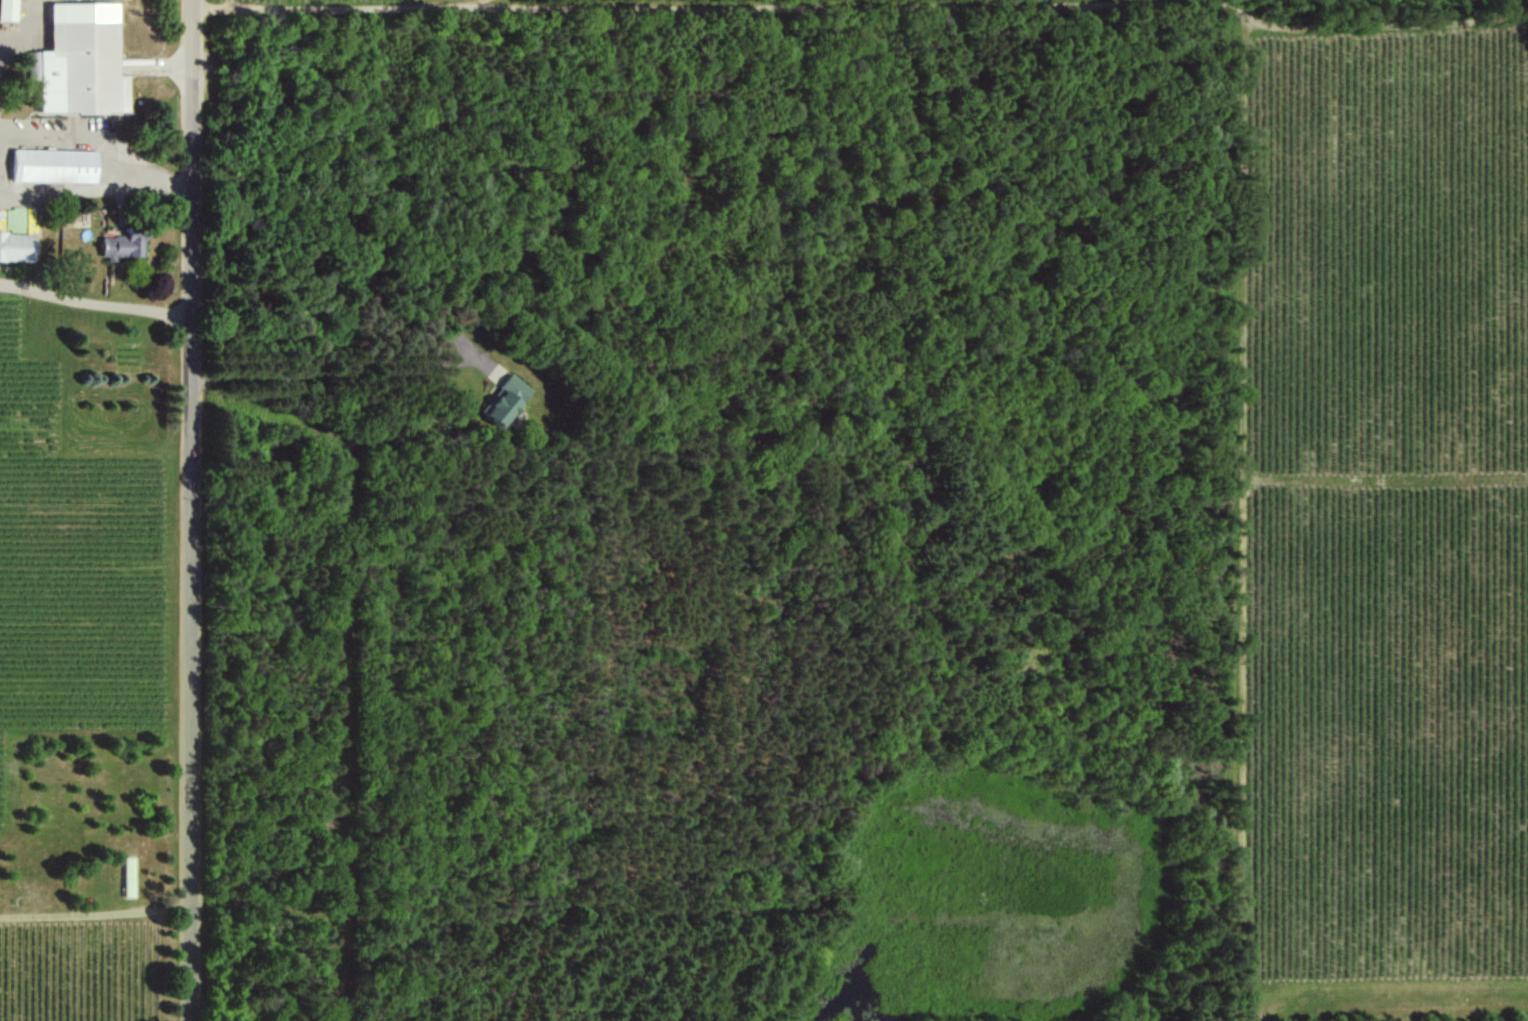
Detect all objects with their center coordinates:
road: (19, 32)
building: (83, 60)
road: (7, 136)
road: (89, 146)
building: (55, 165)
building: (123, 244)
building: (16, 246)
road: (96, 302)
building: (504, 400)
road: (191, 510)
building: (129, 876)

